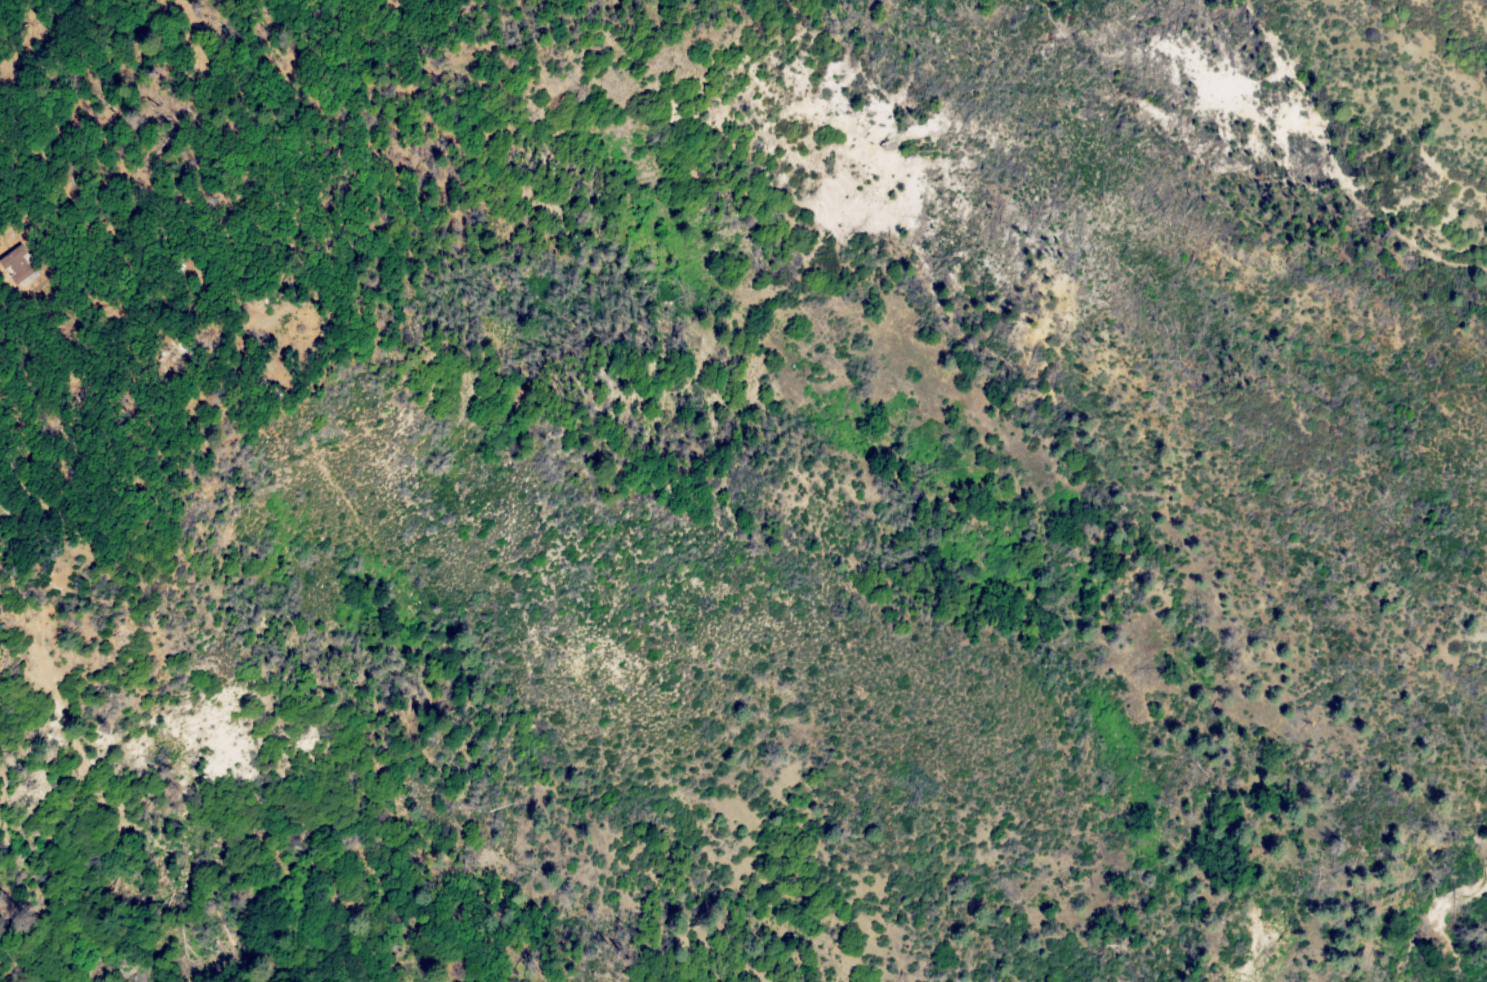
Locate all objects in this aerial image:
road: (1167, 111)
road: (1338, 165)
building: (16, 269)
building: (298, 322)
building: (52, 574)

